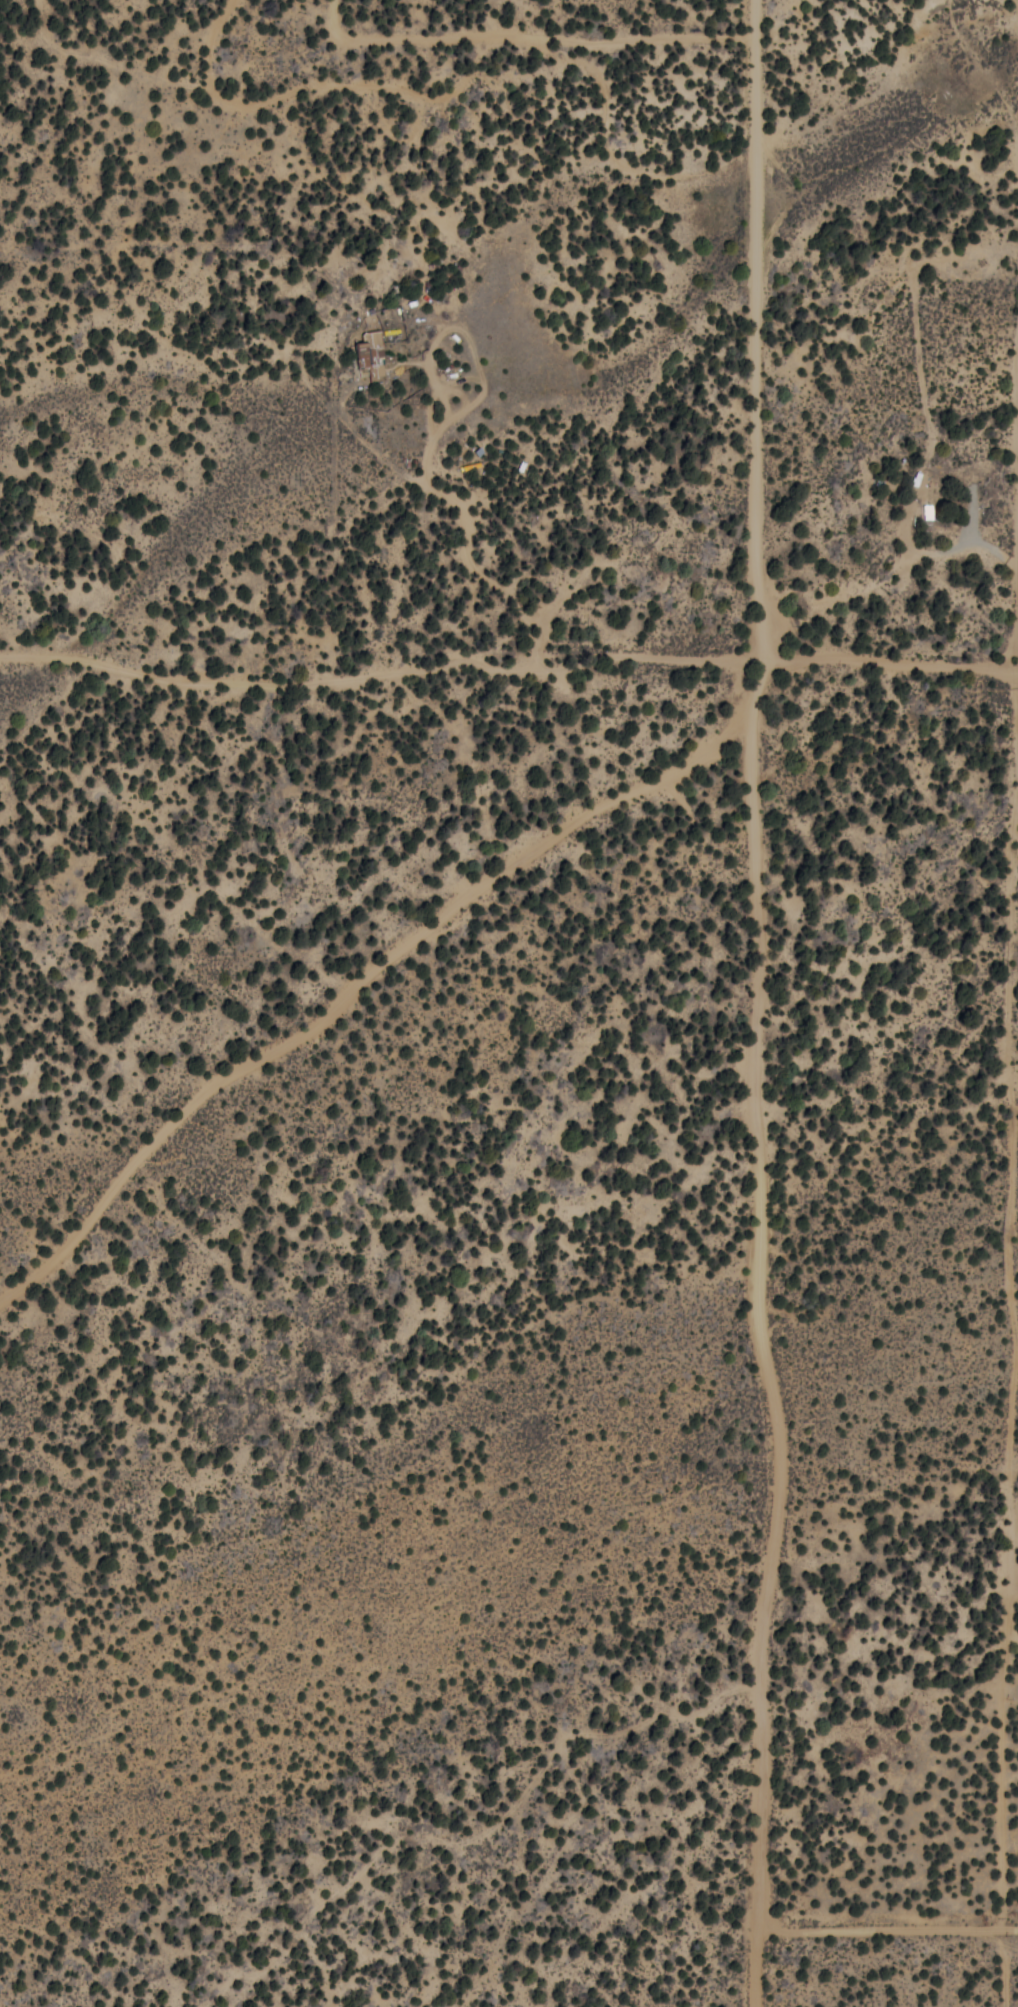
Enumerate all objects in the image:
road: (189, 38)
road: (364, 186)
road: (763, 283)
building: (371, 355)
building: (928, 511)
road: (902, 513)
road: (558, 631)
road: (339, 744)
road: (349, 947)
road: (351, 1170)
road: (747, 1281)

